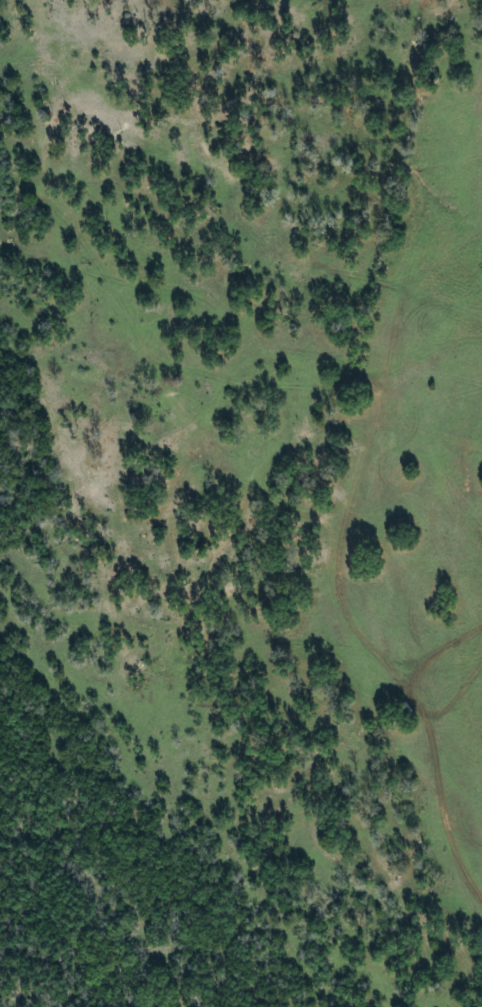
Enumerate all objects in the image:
airport: (420, 497)

